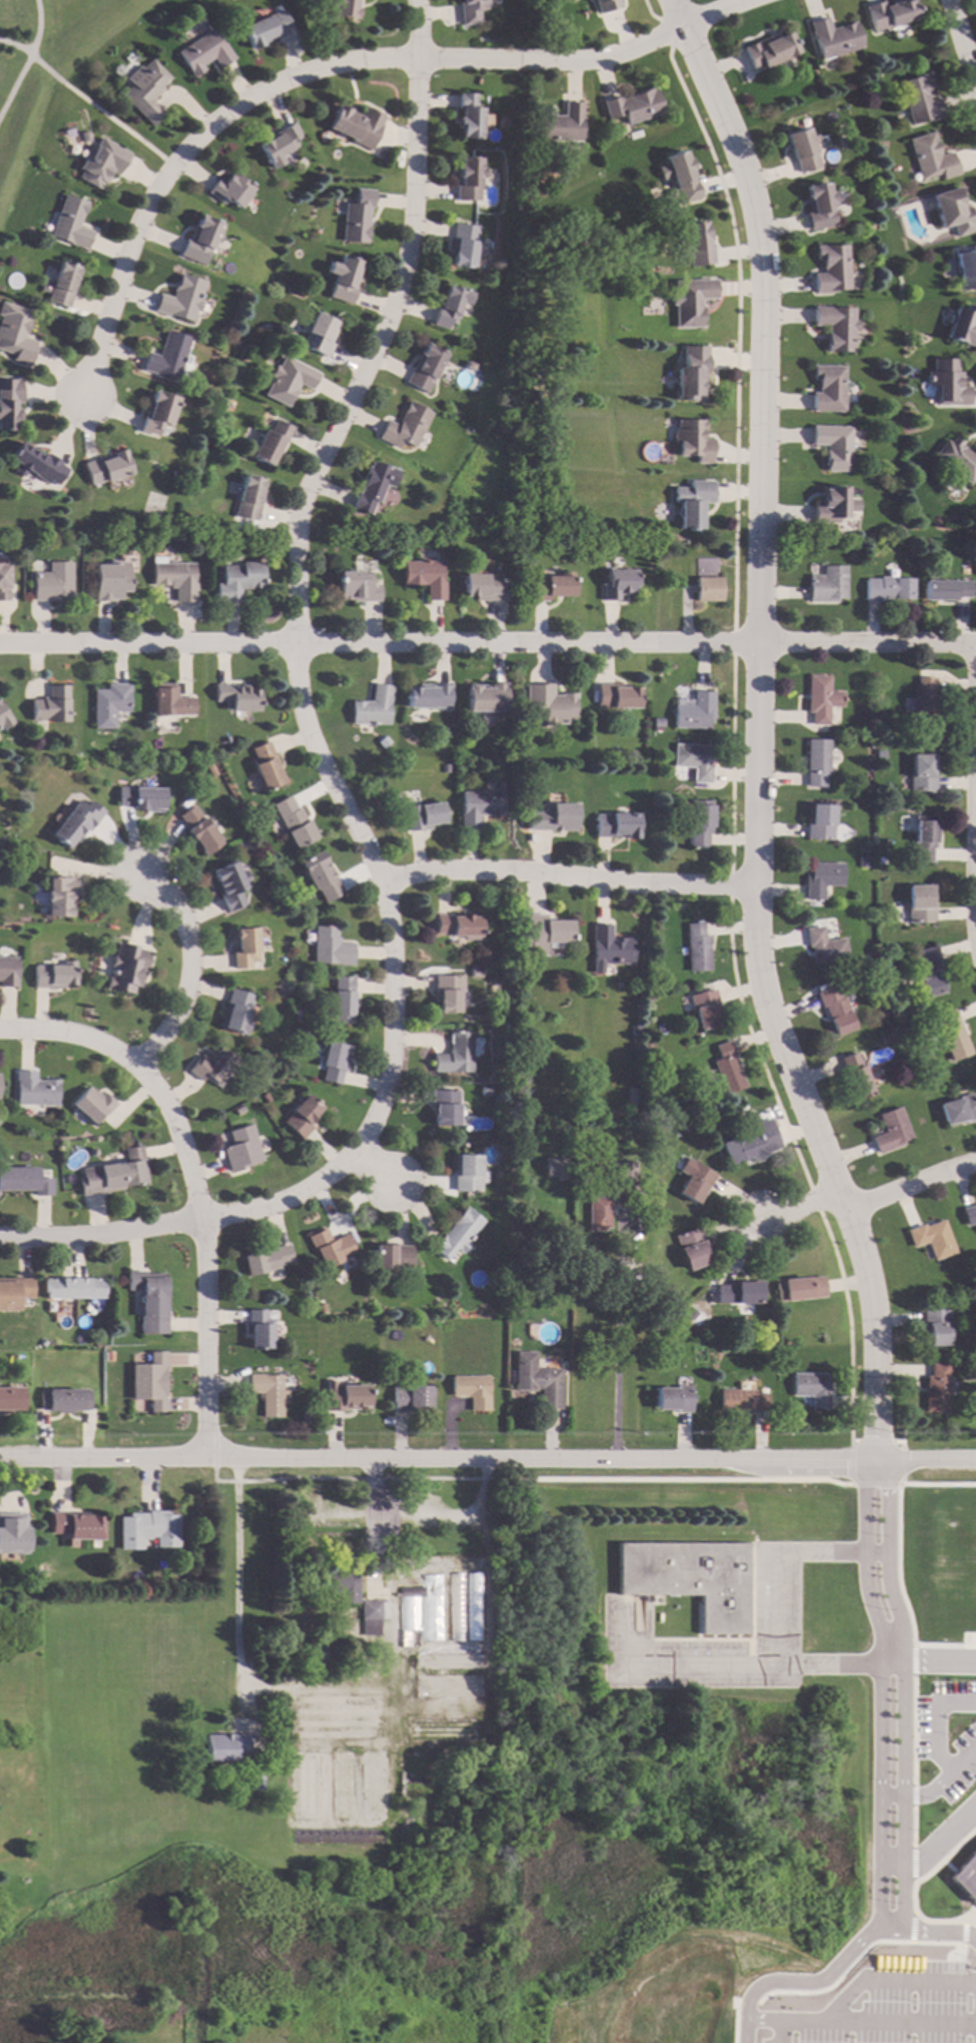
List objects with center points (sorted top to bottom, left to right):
building: (604, 4)
building: (343, 8)
building: (469, 11)
building: (889, 13)
road: (38, 29)
building: (267, 29)
road: (417, 30)
building: (834, 37)
road: (961, 44)
road: (16, 46)
building: (768, 50)
building: (203, 53)
road: (599, 57)
park: (46, 58)
road: (15, 86)
building: (144, 90)
building: (918, 99)
building: (633, 106)
road: (102, 112)
building: (470, 116)
building: (559, 123)
building: (356, 126)
building: (83, 137)
building: (278, 147)
building: (800, 149)
road: (183, 154)
building: (931, 158)
building: (101, 163)
building: (680, 177)
building: (470, 179)
building: (229, 190)
building: (818, 206)
building: (951, 212)
building: (357, 216)
building: (69, 223)
building: (200, 239)
building: (697, 244)
building: (466, 246)
building: (830, 269)
building: (966, 270)
building: (342, 279)
building: (61, 285)
building: (180, 298)
building: (691, 301)
building: (452, 306)
building: (961, 324)
building: (835, 326)
building: (264, 327)
building: (15, 333)
building: (318, 334)
building: (166, 355)
building: (426, 367)
building: (692, 373)
building: (287, 380)
building: (946, 382)
building: (827, 387)
building: (9, 402)
building: (157, 411)
building: (407, 426)
building: (693, 440)
building: (271, 441)
building: (832, 446)
building: (957, 459)
building: (35, 463)
building: (107, 467)
building: (174, 473)
building: (373, 486)
building: (248, 499)
building: (692, 501)
building: (829, 506)
building: (641, 547)
building: (423, 577)
building: (175, 579)
building: (237, 580)
building: (706, 580)
building: (3, 581)
building: (109, 581)
building: (51, 582)
building: (615, 584)
building: (827, 585)
building: (356, 587)
building: (484, 587)
building: (549, 587)
building: (888, 589)
building: (946, 590)
road: (294, 611)
road: (487, 644)
building: (427, 696)
building: (615, 697)
building: (236, 698)
building: (485, 698)
building: (821, 699)
building: (170, 702)
building: (924, 702)
building: (549, 704)
building: (50, 705)
building: (108, 705)
building: (372, 707)
building: (693, 712)
building: (3, 720)
building: (656, 722)
road: (756, 731)
building: (909, 744)
building: (693, 761)
building: (816, 762)
building: (208, 767)
building: (265, 767)
building: (446, 768)
building: (921, 773)
building: (141, 799)
building: (678, 805)
building: (479, 807)
building: (425, 816)
building: (551, 818)
building: (76, 823)
building: (293, 823)
building: (699, 823)
building: (817, 823)
building: (615, 826)
building: (199, 829)
building: (922, 839)
road: (974, 847)
building: (881, 860)
road: (567, 874)
building: (321, 877)
building: (820, 879)
building: (229, 884)
building: (60, 896)
building: (919, 905)
building: (459, 926)
building: (542, 933)
building: (246, 946)
building: (609, 946)
building: (330, 947)
building: (824, 947)
building: (697, 949)
building: (858, 959)
road: (191, 965)
building: (126, 968)
building: (928, 971)
building: (8, 972)
building: (475, 973)
building: (54, 975)
building: (448, 993)
building: (342, 1000)
building: (705, 1009)
building: (835, 1010)
building: (236, 1012)
building: (879, 1012)
building: (633, 1029)
road: (73, 1036)
building: (952, 1036)
building: (885, 1039)
building: (653, 1054)
building: (454, 1055)
building: (333, 1062)
building: (214, 1067)
building: (728, 1069)
building: (856, 1076)
building: (34, 1090)
building: (265, 1098)
building: (91, 1105)
building: (444, 1107)
building: (238, 1110)
building: (959, 1110)
building: (302, 1116)
building: (890, 1131)
building: (743, 1148)
building: (241, 1149)
building: (91, 1153)
building: (555, 1168)
road: (376, 1170)
building: (625, 1170)
building: (467, 1173)
building: (114, 1174)
building: (25, 1181)
building: (697, 1182)
road: (911, 1182)
building: (621, 1198)
road: (806, 1213)
building: (597, 1214)
building: (969, 1215)
road: (186, 1221)
building: (458, 1233)
building: (932, 1239)
building: (330, 1248)
building: (691, 1248)
road: (206, 1253)
building: (392, 1257)
building: (266, 1260)
building: (72, 1288)
building: (800, 1289)
building: (740, 1293)
building: (15, 1294)
building: (150, 1301)
building: (321, 1308)
building: (689, 1314)
building: (935, 1327)
building: (259, 1330)
building: (42, 1343)
road: (618, 1343)
building: (96, 1345)
building: (974, 1372)
building: (538, 1380)
building: (150, 1382)
building: (812, 1389)
building: (935, 1389)
building: (472, 1391)
building: (268, 1393)
building: (346, 1397)
building: (411, 1399)
building: (674, 1399)
building: (10, 1400)
building: (64, 1400)
building: (742, 1401)
building: (306, 1419)
road: (487, 1460)
road: (431, 1515)
building: (76, 1527)
building: (148, 1530)
building: (13, 1534)
road: (233, 1563)
building: (464, 1563)
building: (36, 1572)
building: (690, 1579)
building: (406, 1580)
building: (340, 1587)
building: (456, 1606)
building: (474, 1607)
building: (420, 1612)
building: (372, 1616)
road: (775, 1618)
building: (448, 1662)
road: (927, 1665)
road: (702, 1668)
building: (448, 1686)
road: (879, 1690)
road: (903, 1690)
building: (440, 1731)
building: (224, 1748)
building: (425, 1754)
building: (256, 1784)
building: (341, 1785)
building: (371, 1785)
building: (304, 1786)
road: (934, 1849)
building: (966, 1876)
road: (840, 1961)
road: (891, 1980)
road: (860, 2021)
road: (779, 2031)

